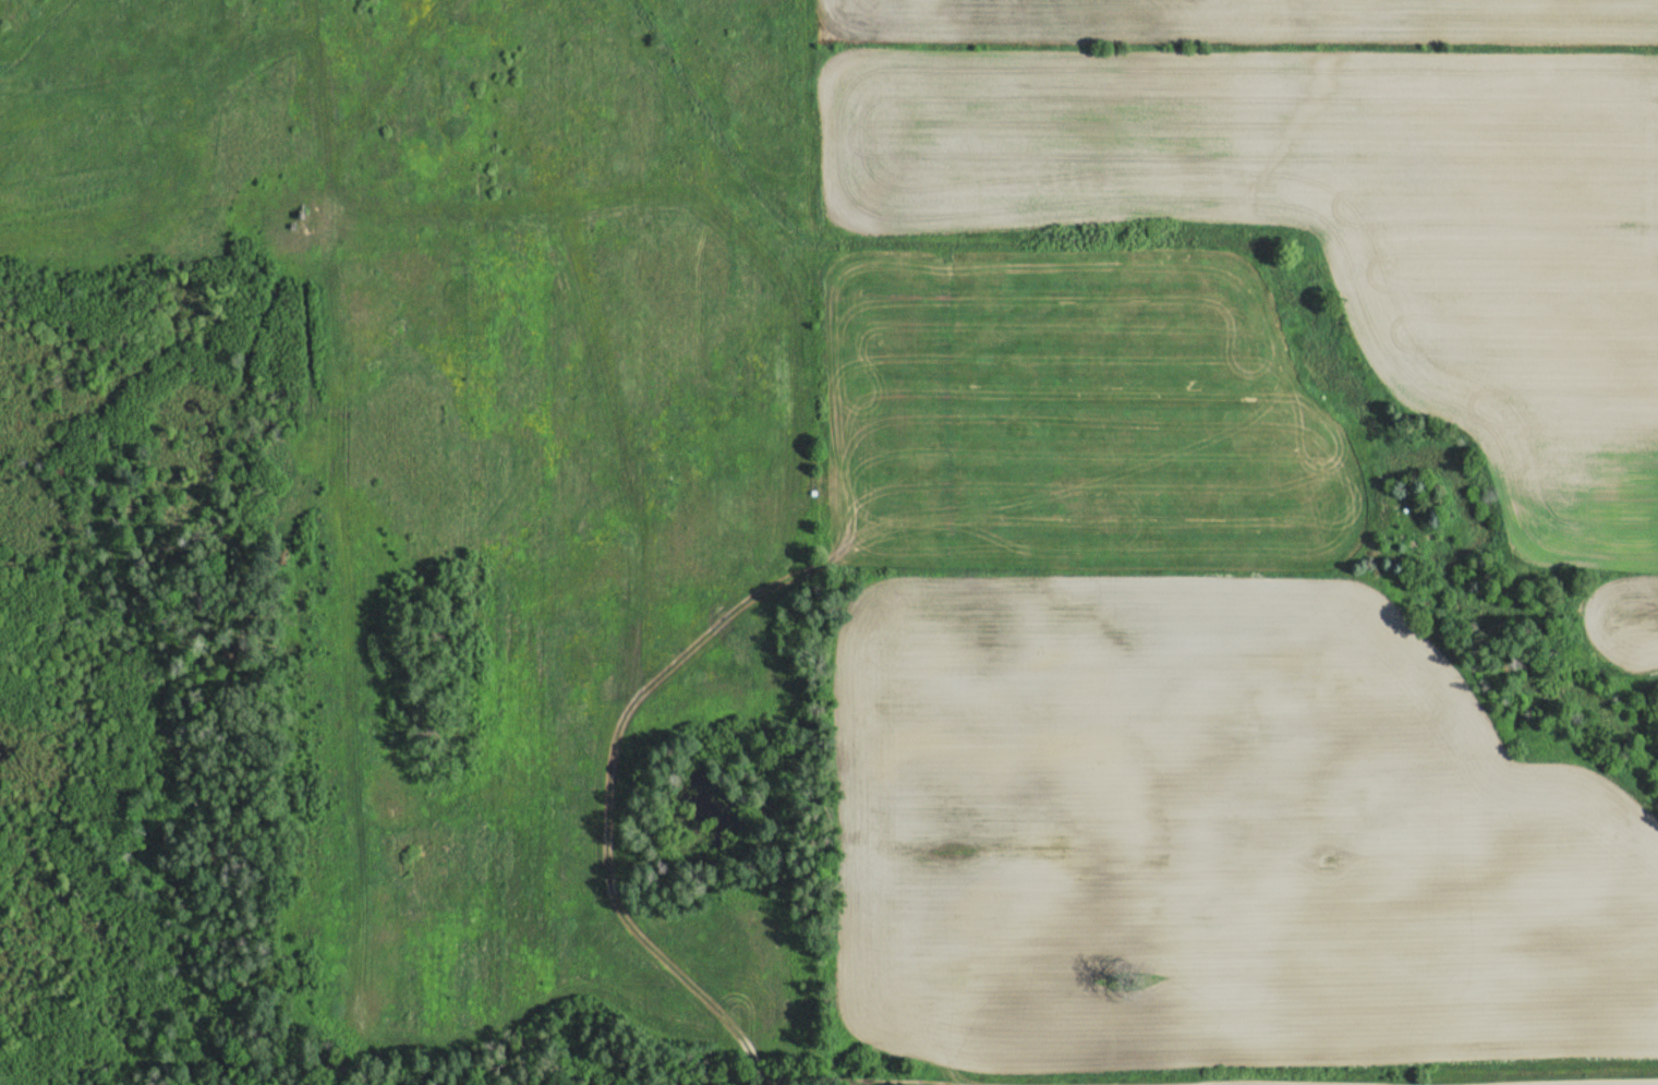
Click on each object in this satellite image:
road: (1569, 1081)
road: (1088, 1084)

